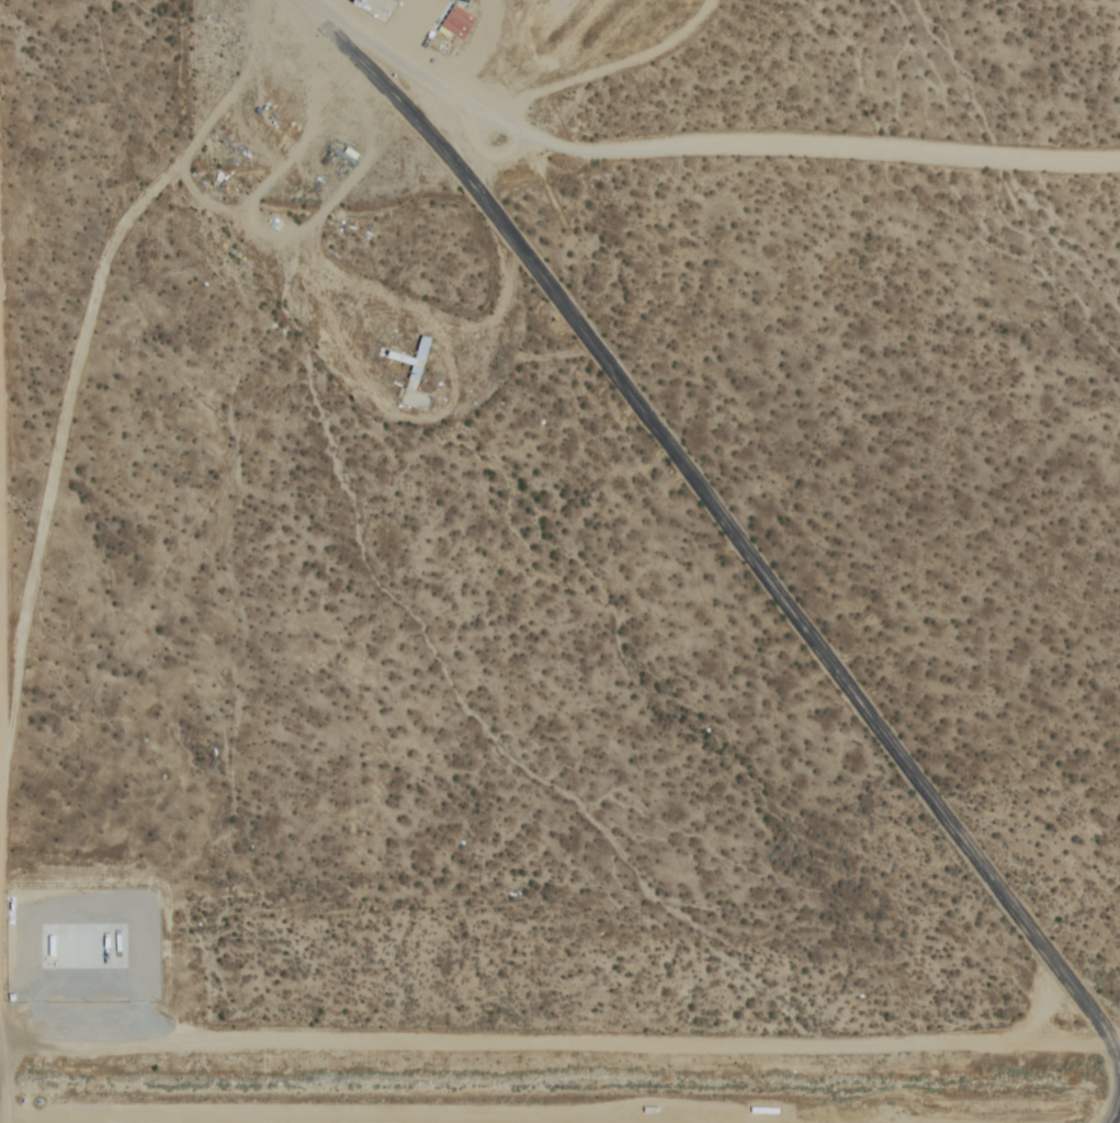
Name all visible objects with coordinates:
building: (283, 133)
road: (723, 141)
building: (417, 378)
road: (743, 545)
airport: (559, 561)
road: (0, 621)
road: (1, 1009)
road: (546, 1035)
road: (554, 1118)

